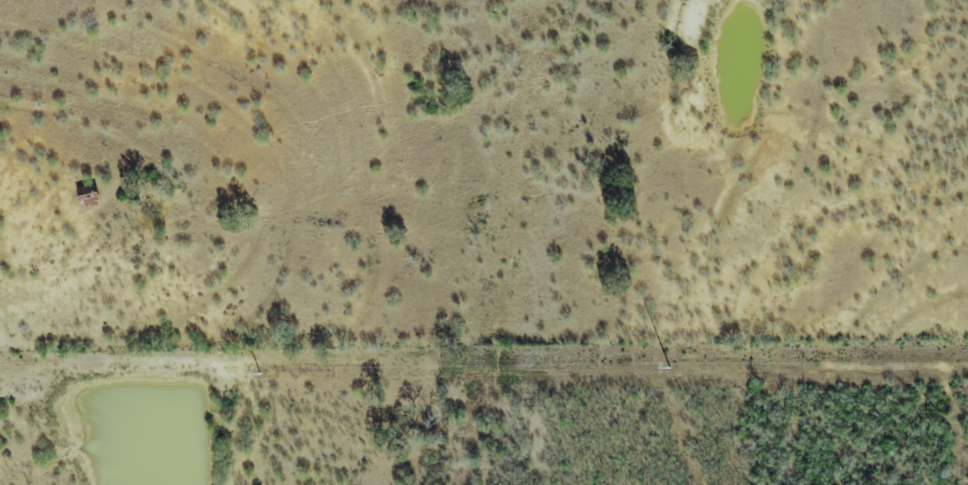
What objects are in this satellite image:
power tower: (669, 368)
power tower: (258, 375)

